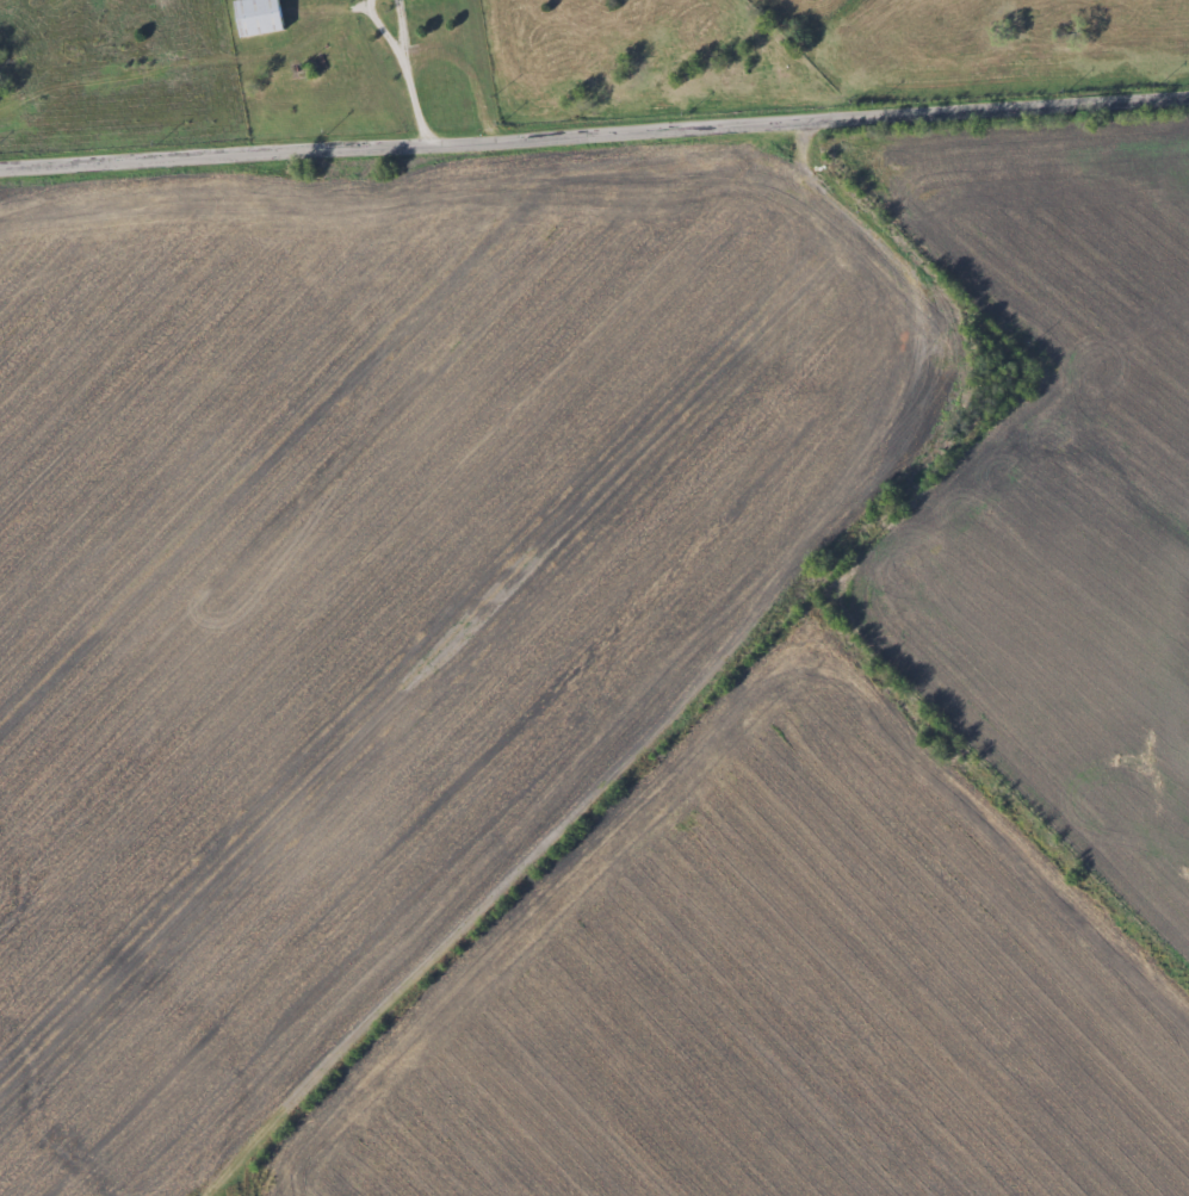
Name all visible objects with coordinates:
building: (253, 16)
road: (404, 76)
road: (594, 137)
road: (738, 655)

